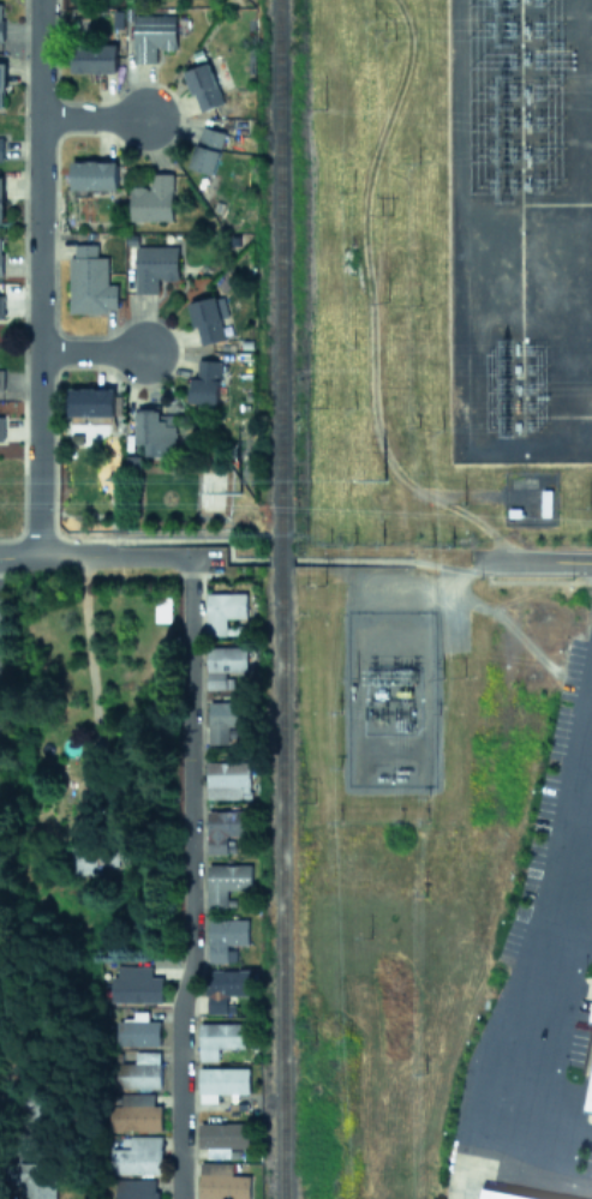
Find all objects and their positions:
building: (0, 19)
power tower: (382, 26)
building: (151, 35)
building: (94, 58)
building: (1, 84)
building: (202, 86)
road: (90, 119)
building: (0, 148)
building: (207, 149)
building: (92, 174)
building: (151, 199)
building: (0, 200)
power tower: (384, 211)
power substation: (520, 236)
building: (0, 248)
building: (154, 266)
road: (36, 278)
building: (89, 281)
railway: (276, 310)
building: (205, 320)
road: (90, 352)
building: (204, 383)
building: (89, 403)
building: (0, 427)
building: (154, 432)
power tower: (378, 478)
power tower: (237, 490)
road: (178, 540)
road: (50, 557)
road: (157, 557)
road: (396, 560)
road: (540, 563)
building: (222, 610)
building: (225, 665)
road: (91, 688)
power substation: (389, 697)
building: (223, 719)
building: (227, 779)
building: (225, 827)
building: (97, 857)
road: (190, 879)
parking lot: (554, 880)
building: (225, 881)
railway: (276, 909)
building: (225, 939)
road: (546, 941)
road: (570, 941)
building: (134, 984)
building: (225, 988)
building: (591, 1014)
building: (591, 1019)
building: (138, 1032)
building: (219, 1038)
building: (138, 1071)
building: (221, 1081)
building: (588, 1093)
building: (134, 1111)
road: (533, 1116)
building: (222, 1138)
building: (138, 1156)
parking lot: (587, 1159)
road: (573, 1168)
building: (32, 1180)
building: (134, 1188)
building: (504, 1193)

